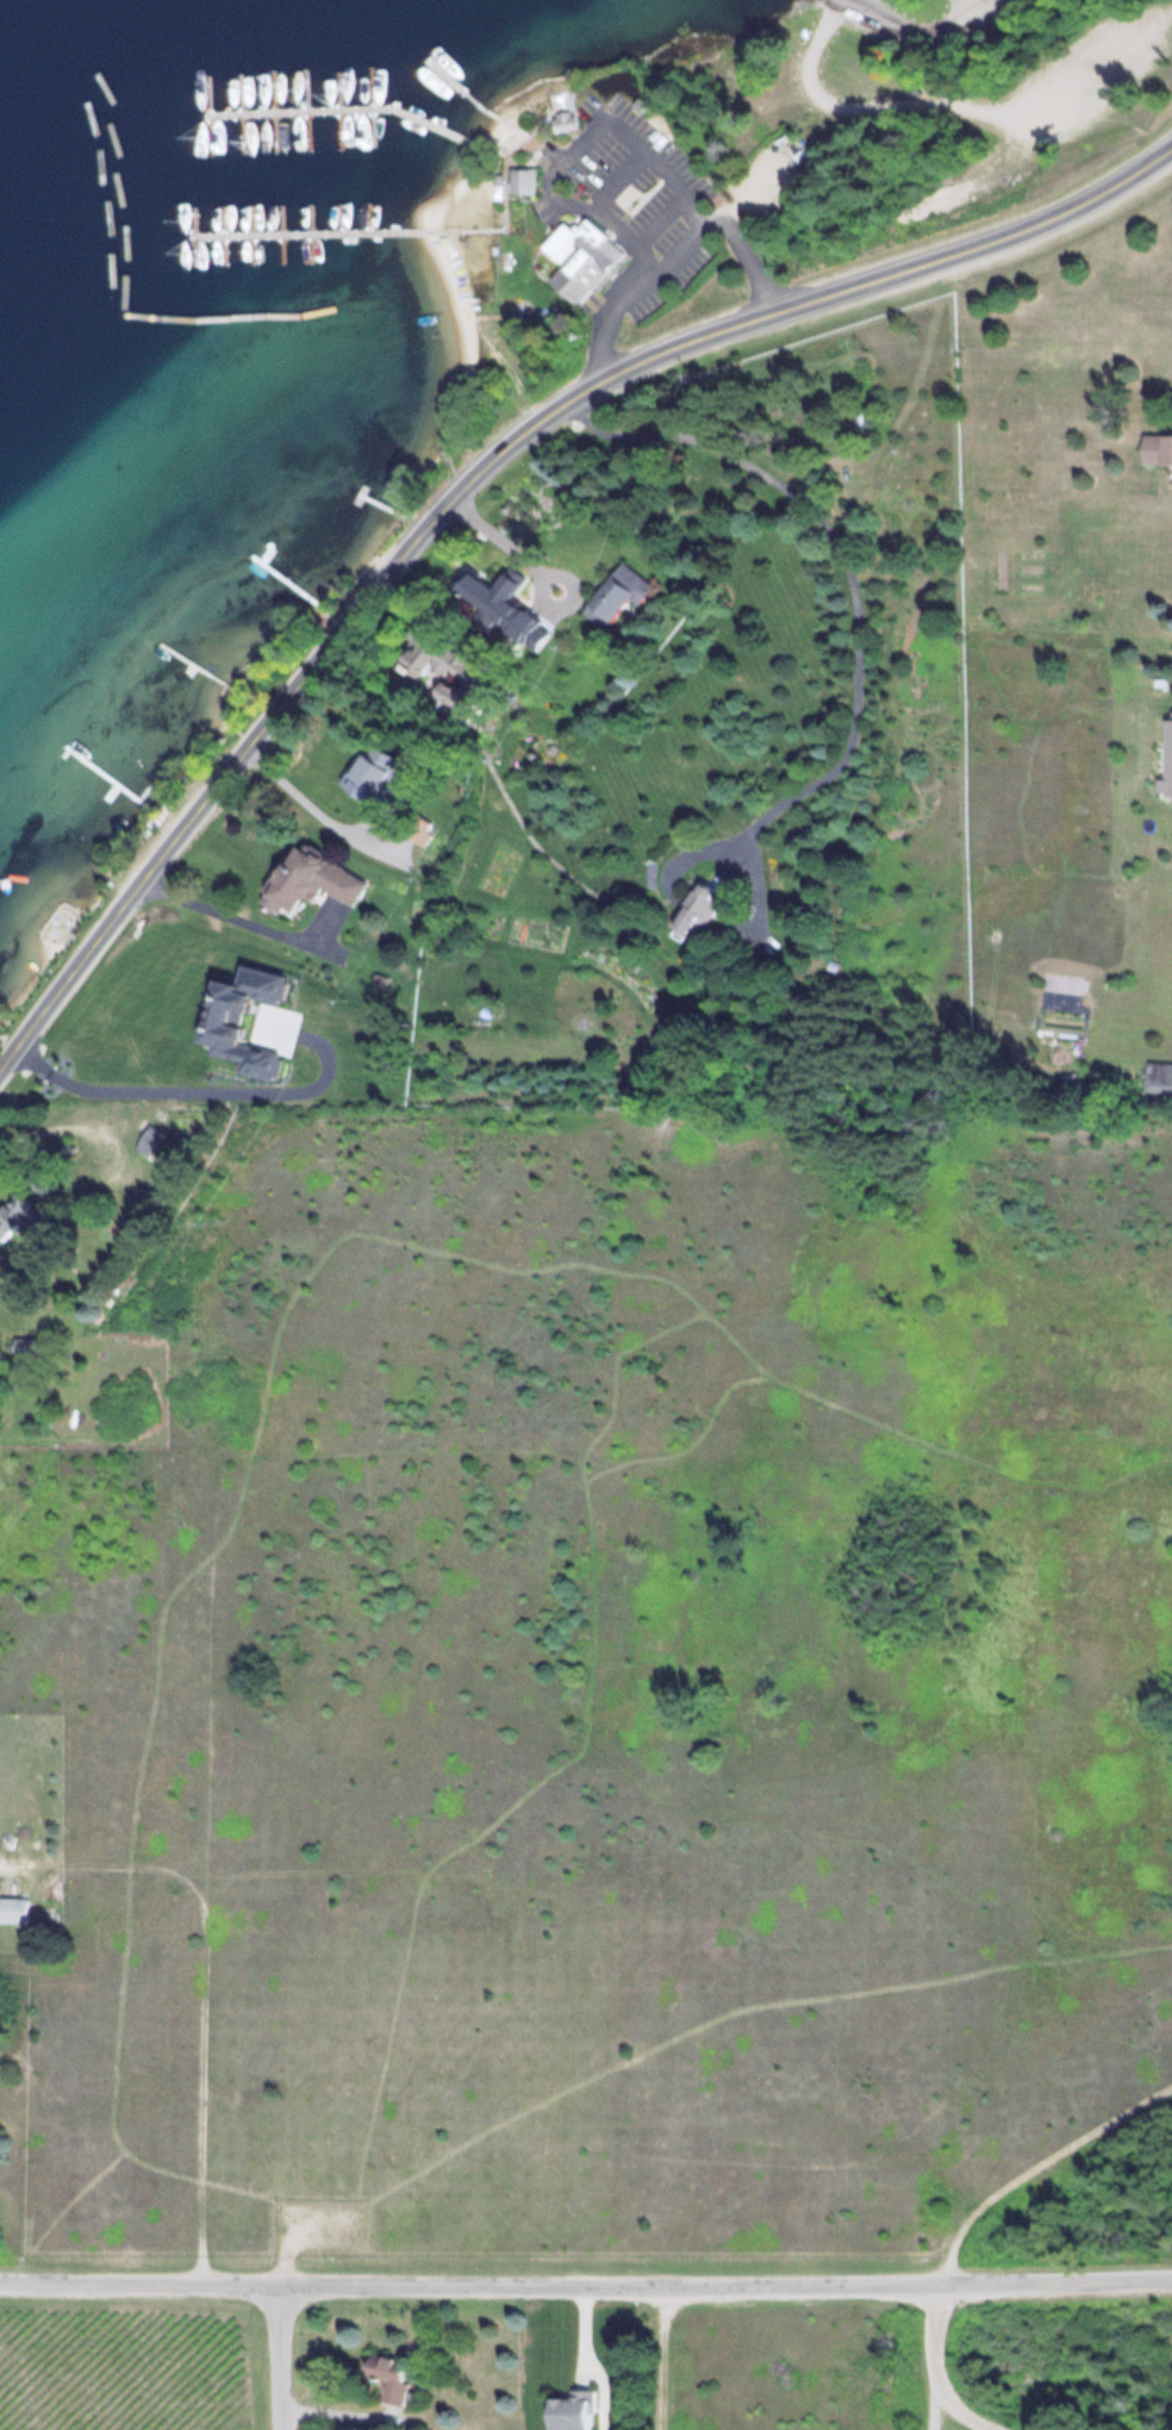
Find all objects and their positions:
road: (847, 1)
road: (852, 1)
parking lot: (983, 7)
road: (918, 31)
pier: (454, 83)
parking lot: (1060, 102)
road: (958, 104)
pier: (345, 107)
building: (563, 120)
building: (523, 180)
parking lot: (631, 202)
pier: (331, 233)
road: (679, 245)
building: (582, 260)
building: (1155, 447)
road: (481, 471)
road: (853, 579)
building: (485, 593)
building: (617, 593)
building: (436, 653)
building: (389, 775)
building: (310, 879)
building: (696, 910)
building: (1159, 1077)
building: (149, 1139)
building: (15, 1217)
building: (31, 1347)
park: (619, 1690)
building: (14, 1909)
road: (585, 2283)
road: (276, 2357)
road: (933, 2370)
building: (386, 2375)
building: (568, 2411)

